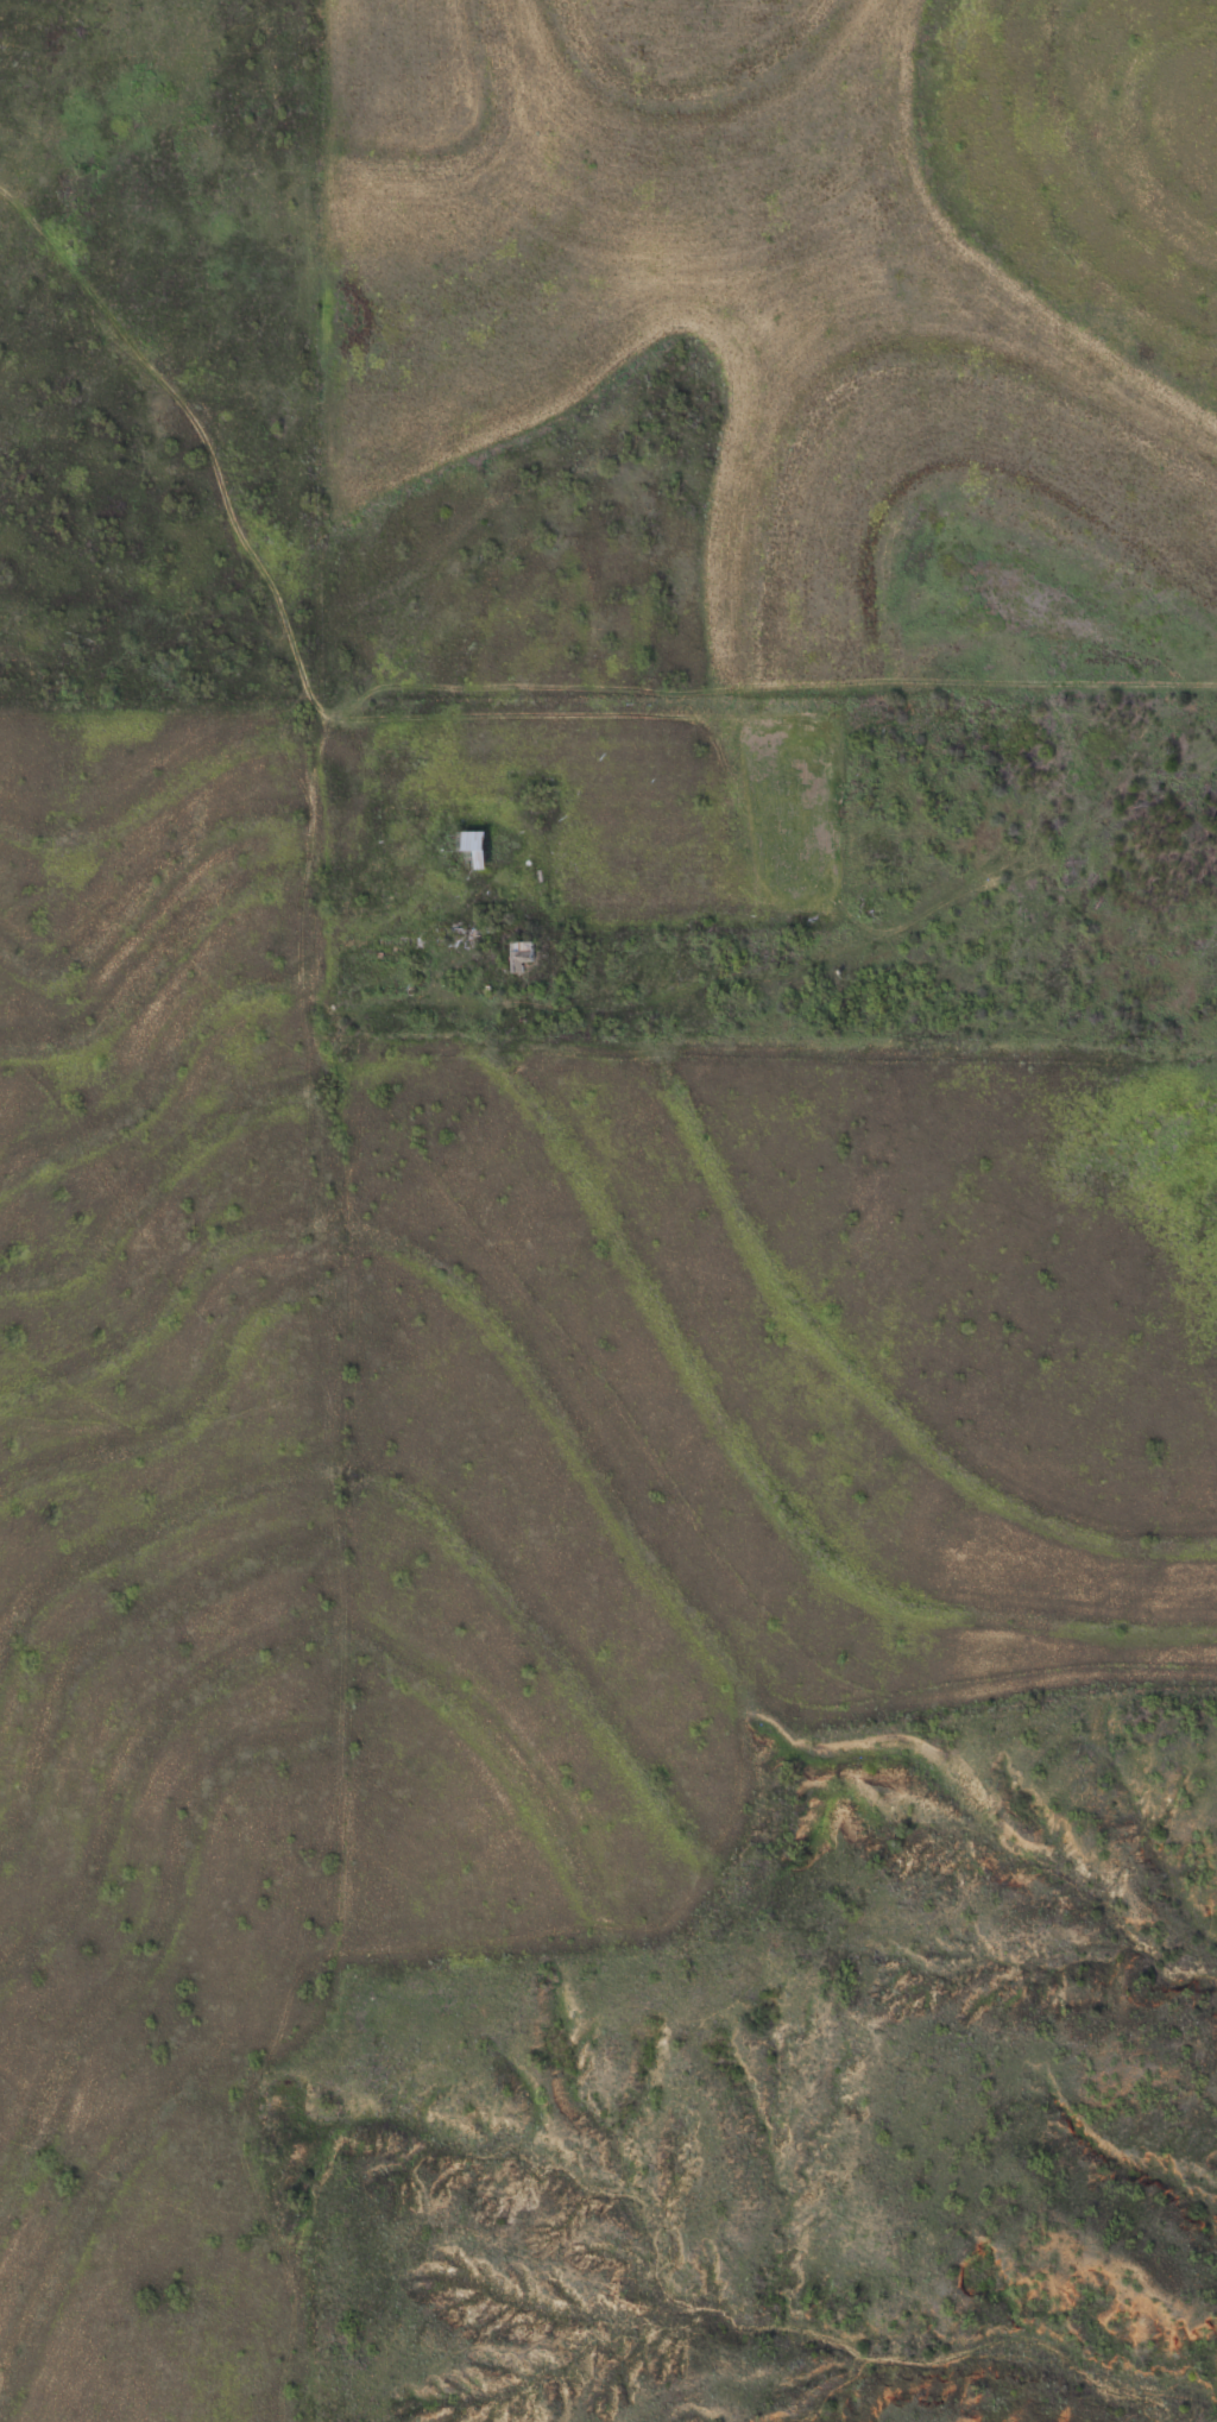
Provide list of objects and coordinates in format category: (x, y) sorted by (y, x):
building: (484, 846)
road: (315, 871)

